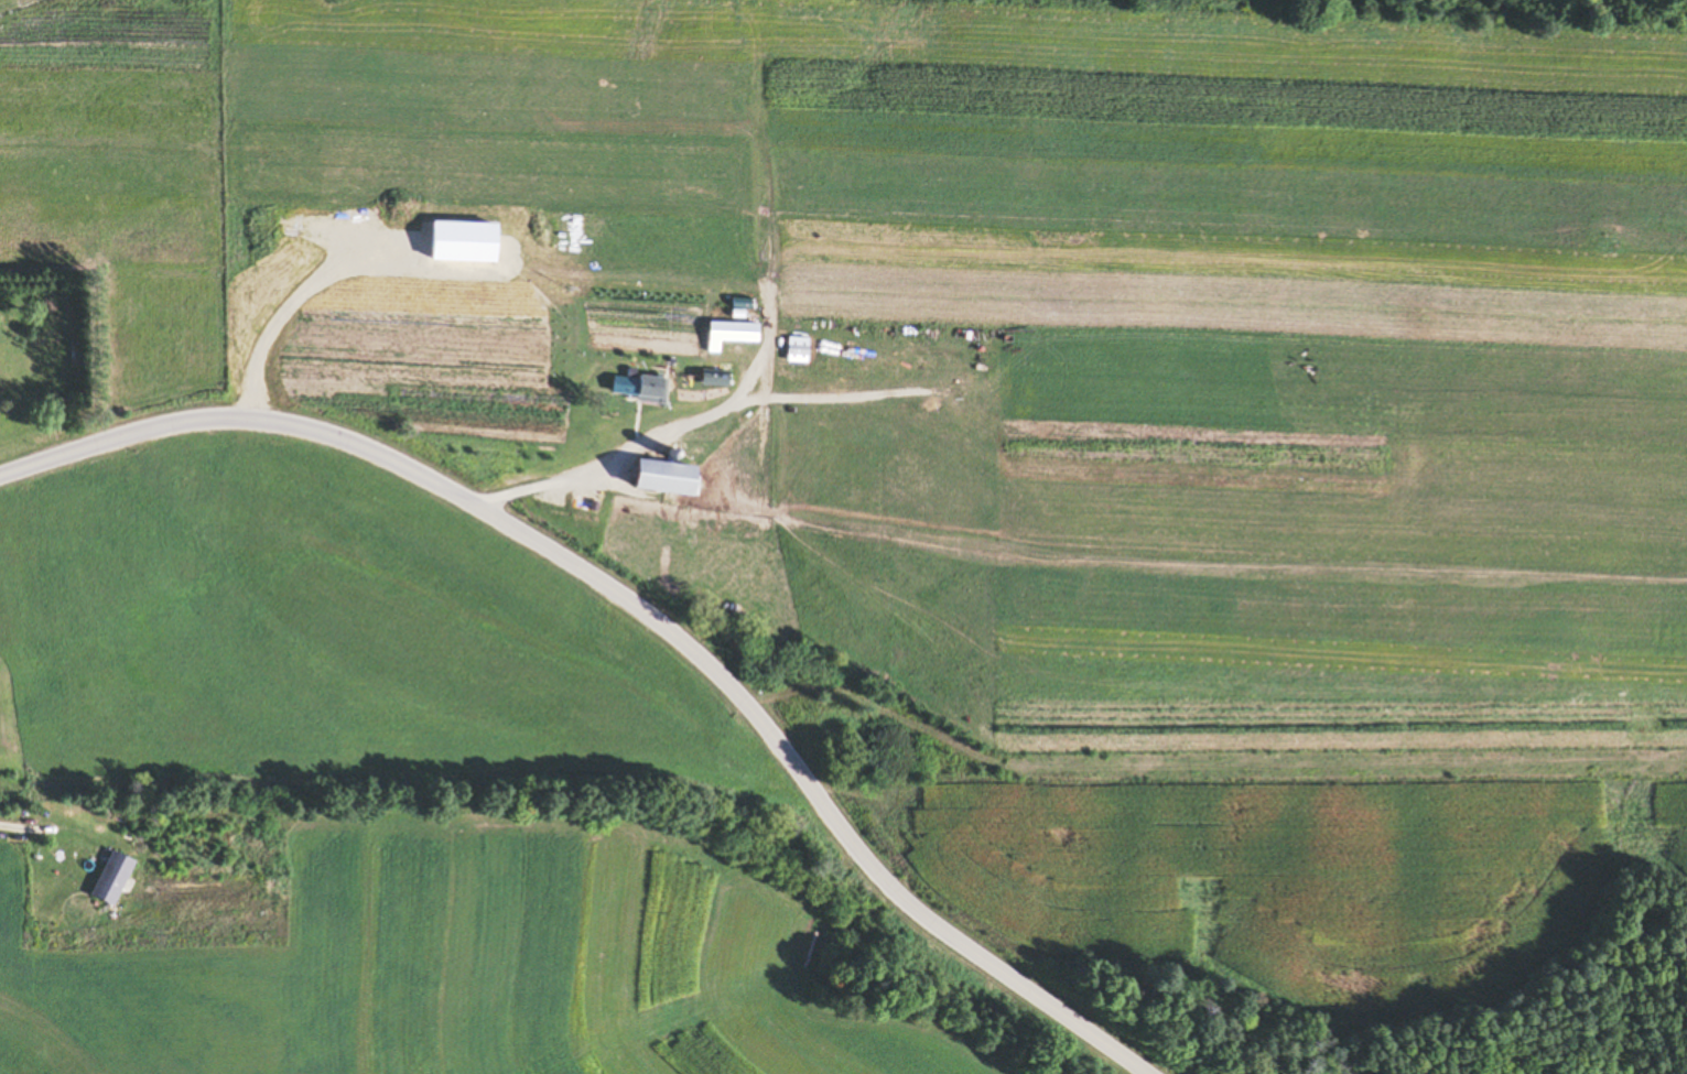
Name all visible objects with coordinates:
crop: (975, 318)
building: (725, 334)
building: (620, 386)
road: (621, 454)
building: (657, 478)
road: (639, 608)
crop: (307, 633)
road: (30, 828)
crop: (1276, 866)
building: (106, 878)
crop: (457, 968)

